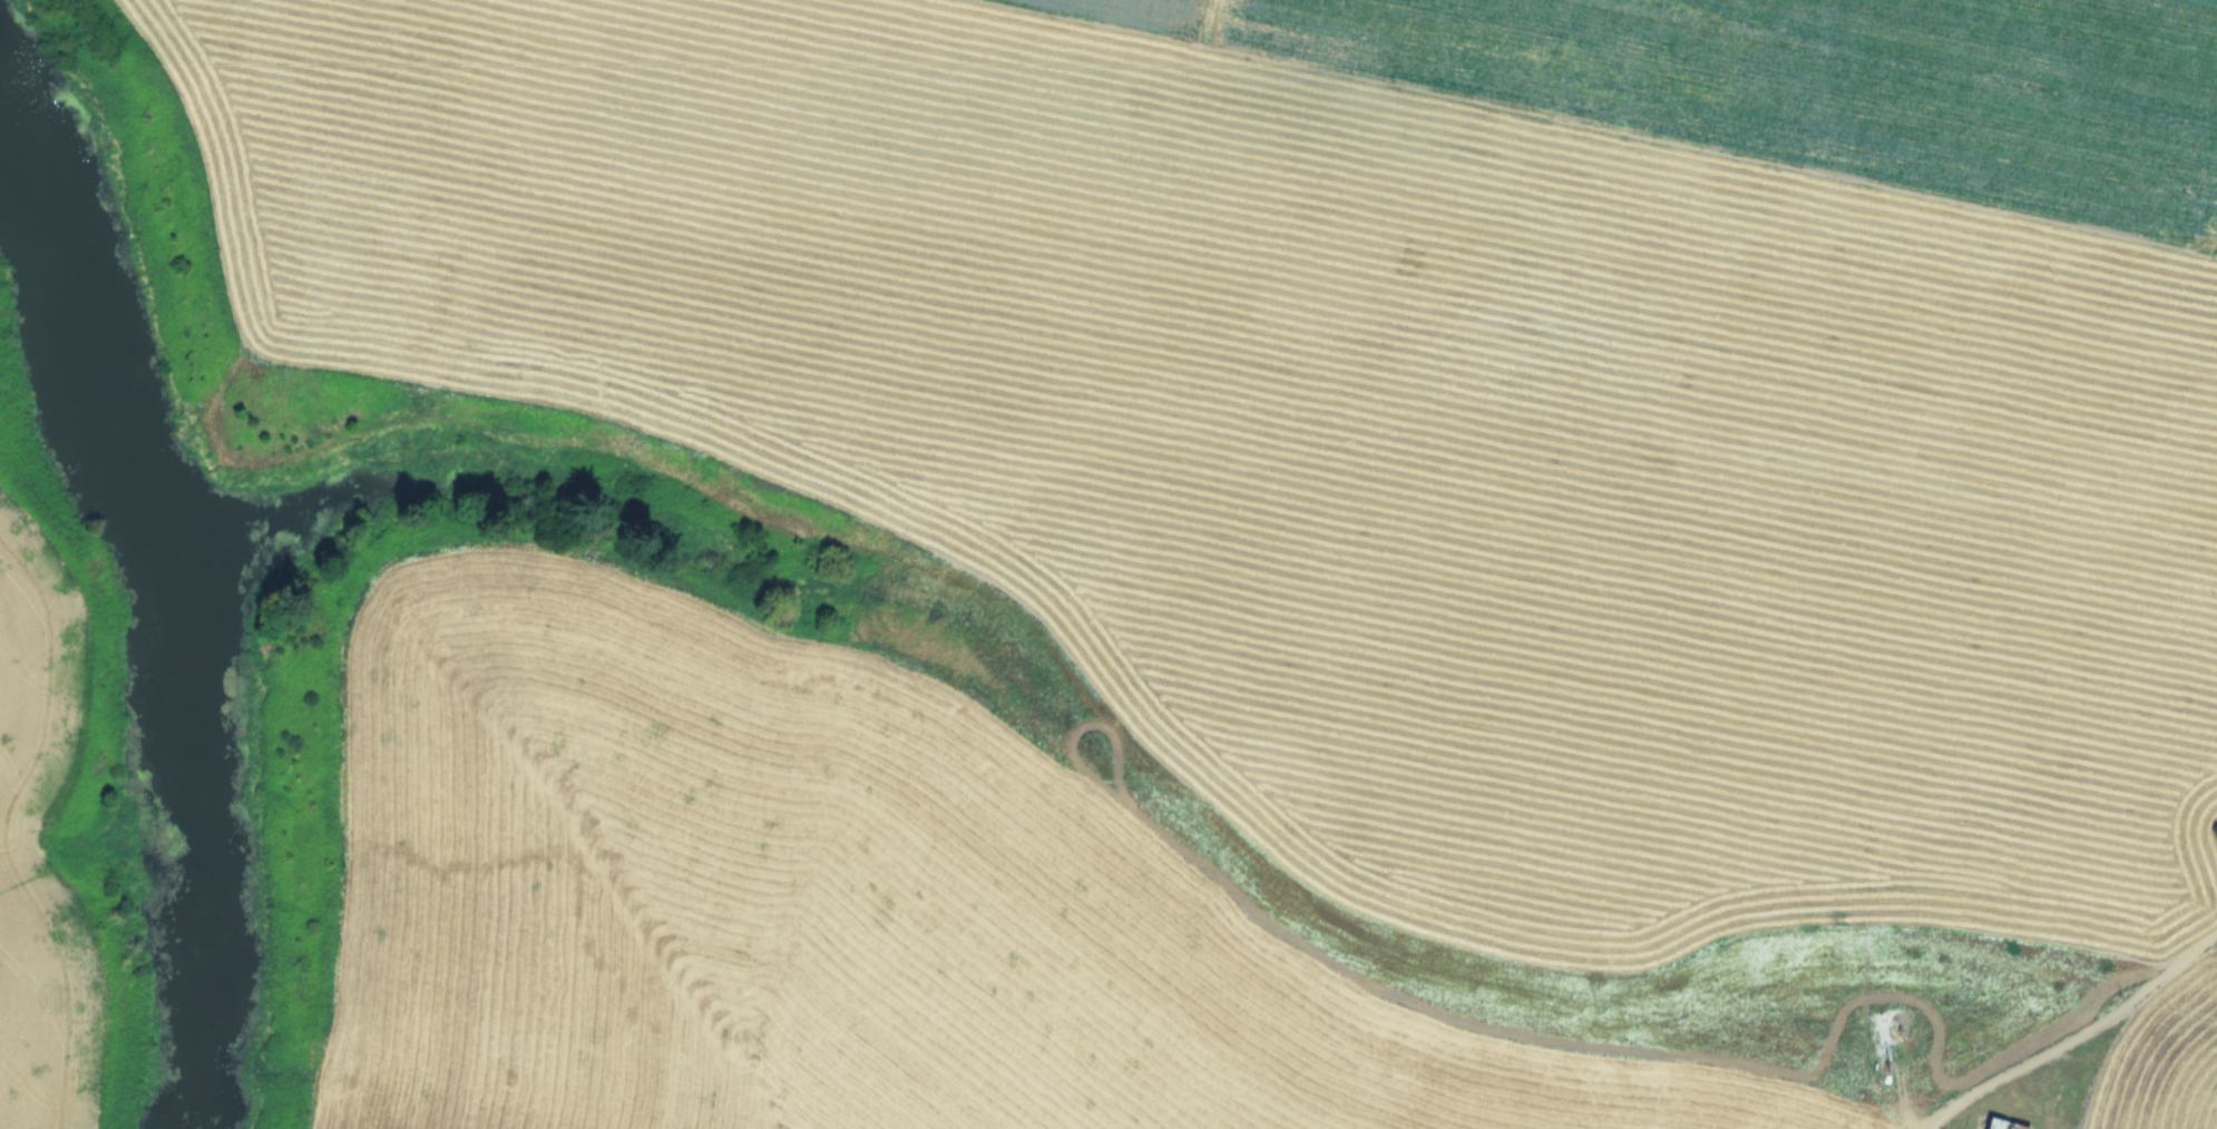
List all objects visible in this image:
crop: (1108, 564)
road: (2076, 1037)
building: (2001, 1123)

